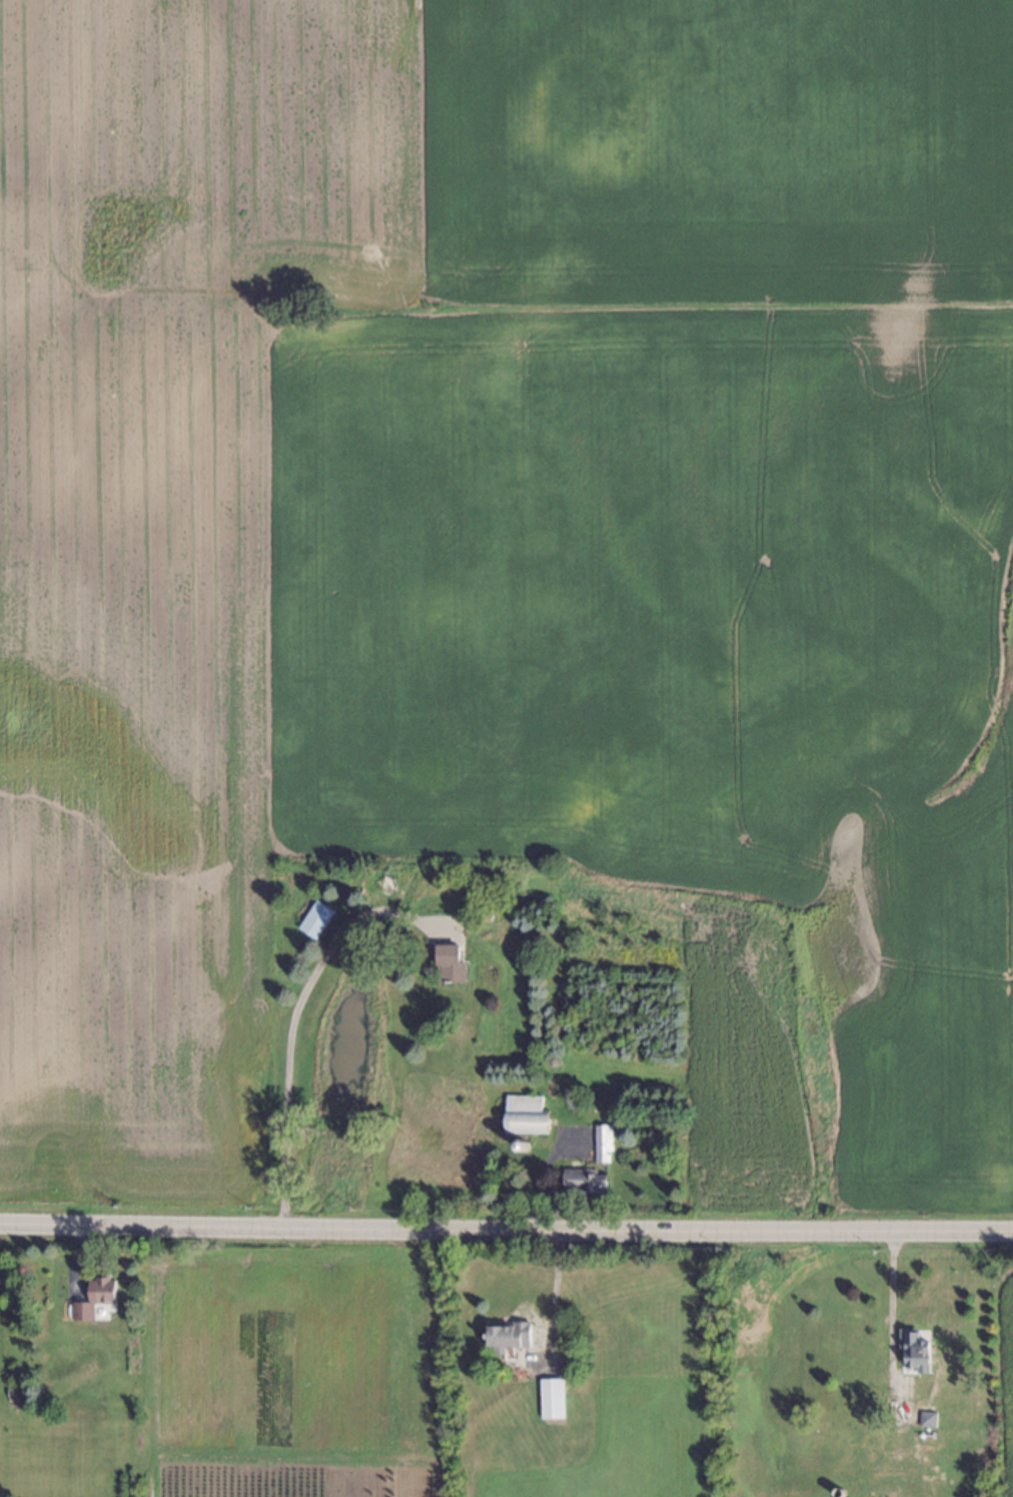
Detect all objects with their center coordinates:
building: (312, 919)
building: (446, 965)
building: (486, 993)
road: (289, 1022)
building: (523, 1114)
building: (600, 1143)
building: (520, 1144)
building: (581, 1180)
road: (506, 1226)
road: (554, 1292)
road: (890, 1293)
building: (93, 1296)
building: (502, 1332)
building: (918, 1354)
building: (10, 1389)
building: (553, 1400)
building: (928, 1418)
building: (836, 1490)

